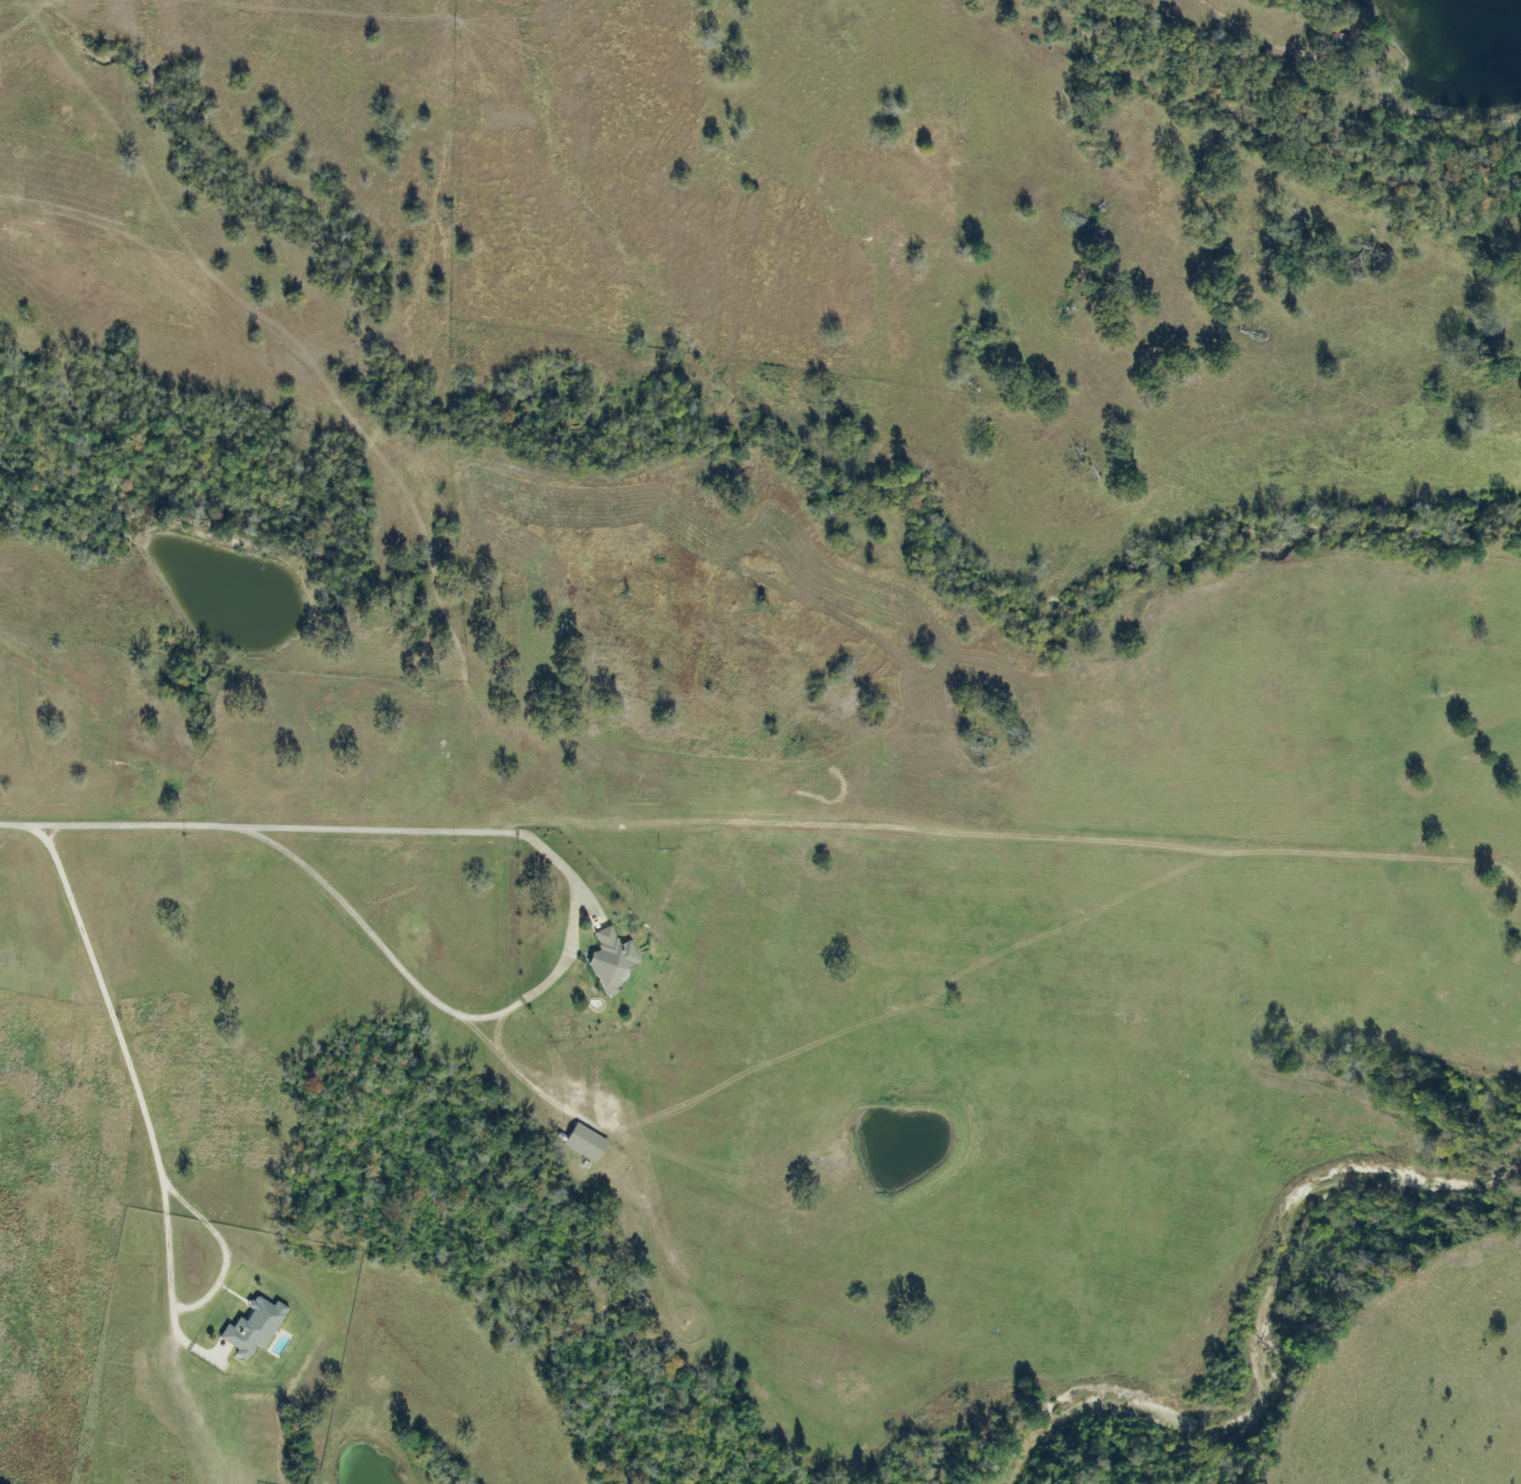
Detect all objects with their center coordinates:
building: (1338, 43)
road: (1341, 123)
road: (563, 868)
building: (610, 961)
road: (105, 975)
building: (584, 1144)
road: (207, 1302)

